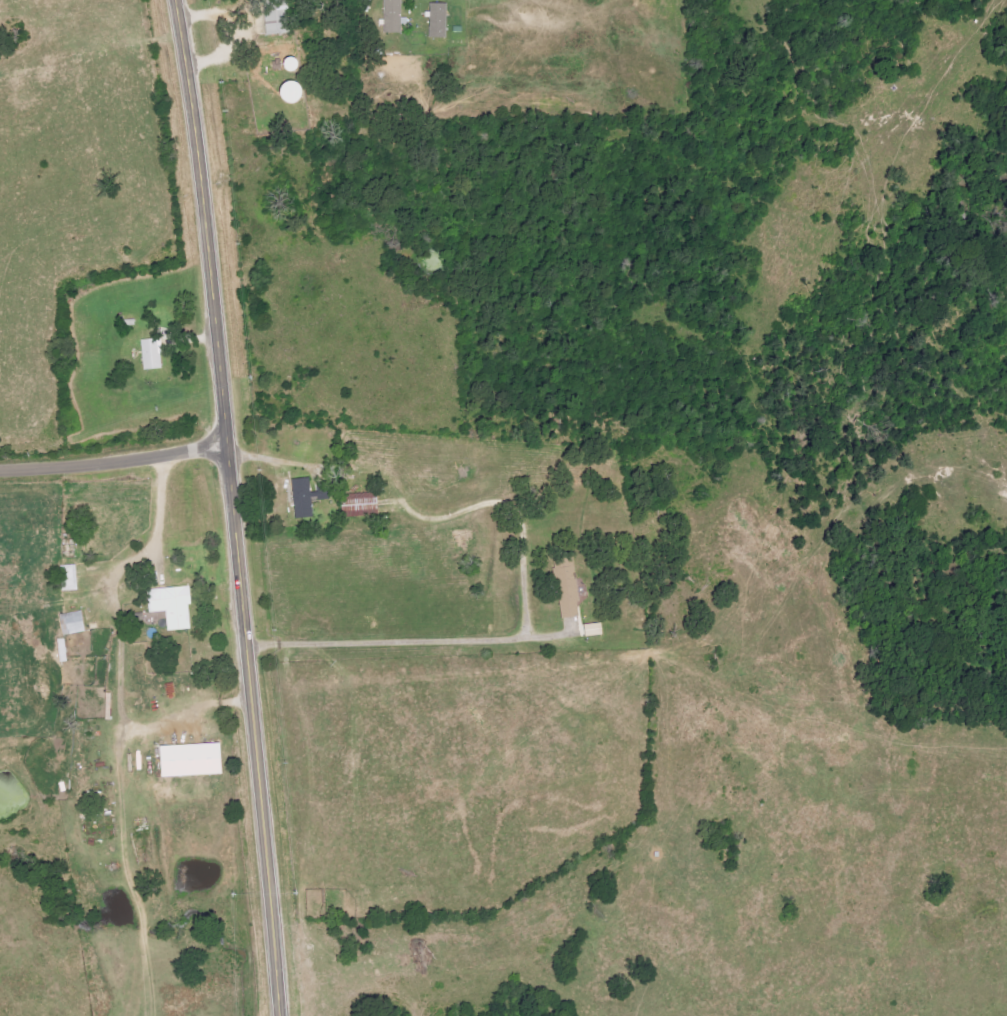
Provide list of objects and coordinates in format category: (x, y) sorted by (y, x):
building: (396, 16)
building: (443, 20)
building: (154, 354)
road: (114, 459)
building: (310, 496)
building: (366, 503)
road: (234, 507)
building: (71, 578)
building: (570, 588)
building: (176, 606)
building: (598, 630)
building: (195, 761)

